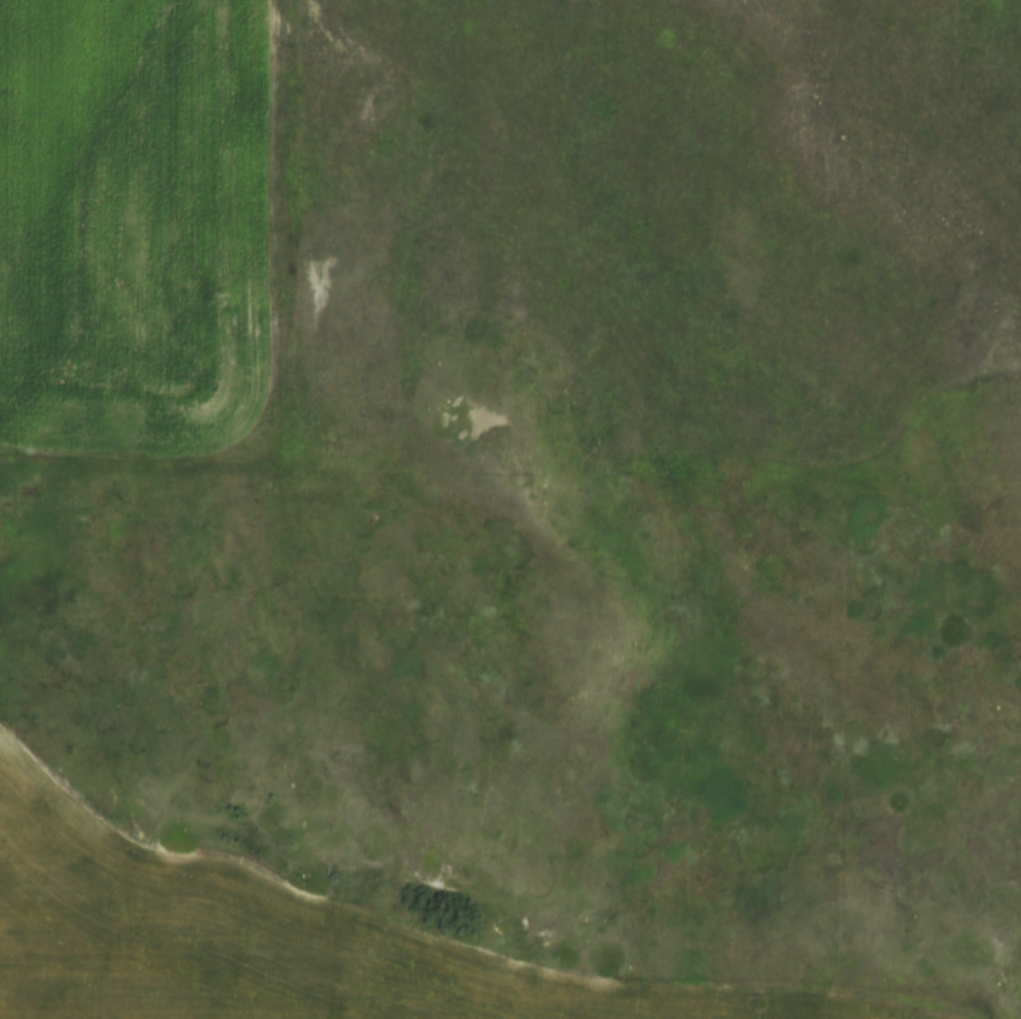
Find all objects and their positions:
power substation: (63, 279)

